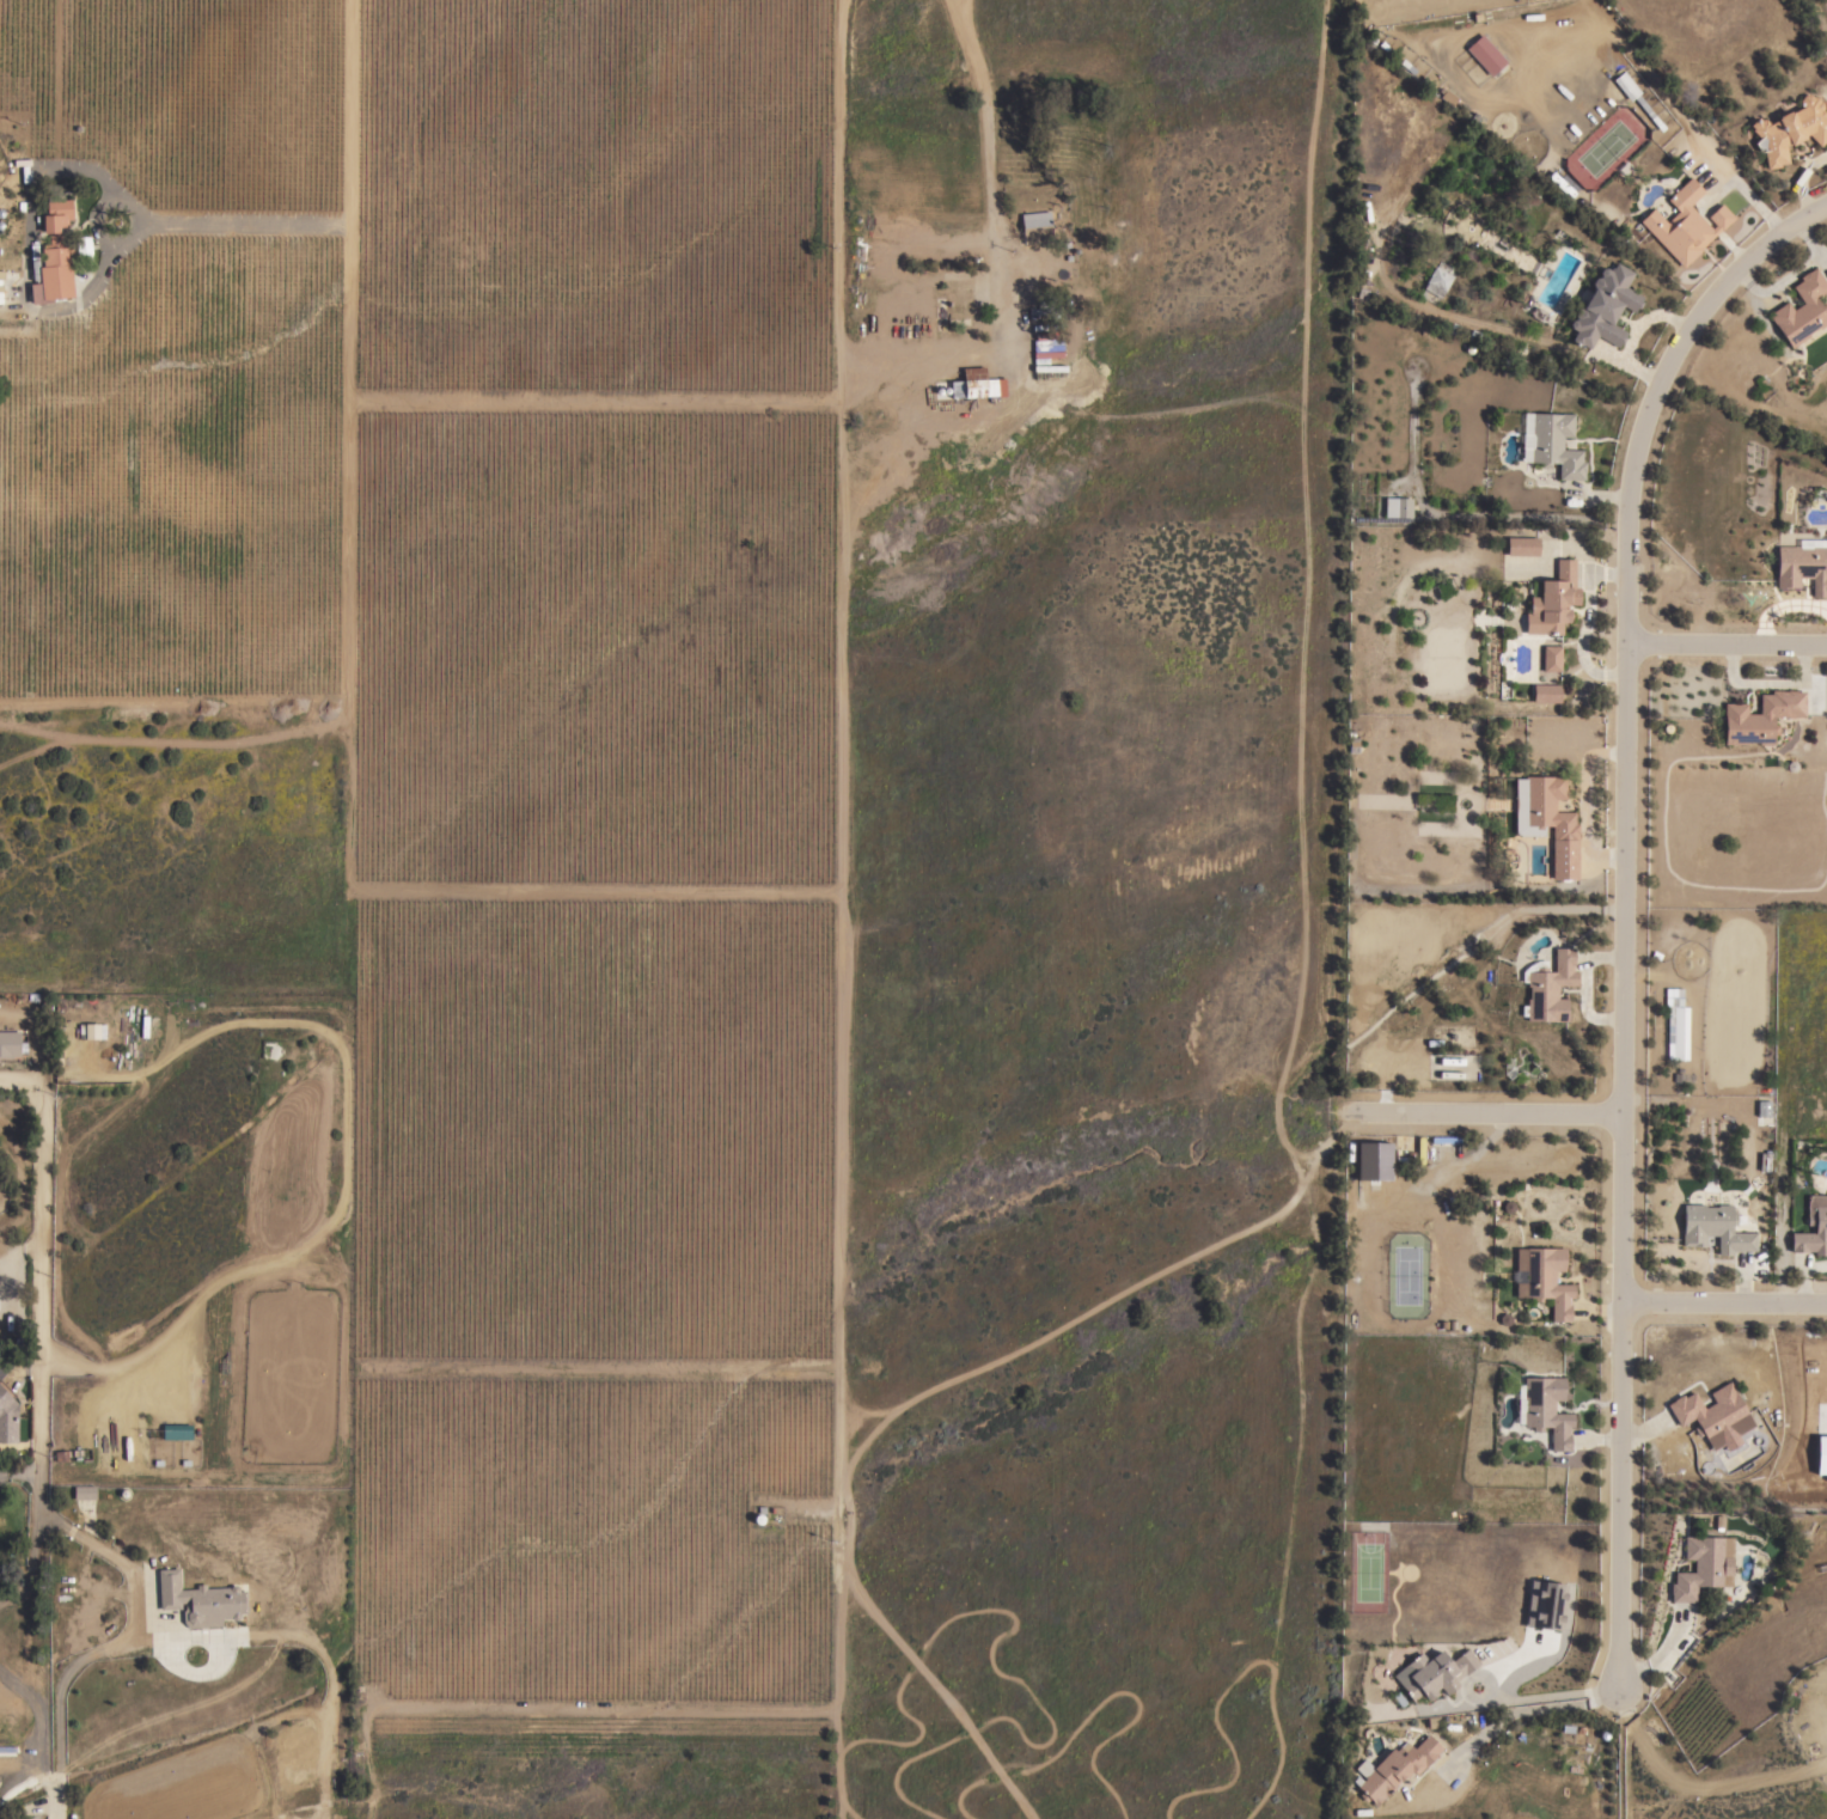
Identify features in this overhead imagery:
building: (1484, 54)
building: (1625, 86)
road: (984, 118)
building: (1789, 129)
building: (55, 209)
road: (93, 220)
road: (240, 222)
building: (1684, 224)
building: (1034, 226)
building: (83, 250)
road: (991, 258)
building: (53, 273)
building: (1436, 281)
building: (0, 295)
building: (1603, 306)
building: (1801, 310)
building: (982, 387)
road: (592, 398)
road: (344, 442)
building: (1551, 444)
building: (1397, 507)
building: (1521, 545)
building: (1802, 566)
building: (1552, 600)
road: (1725, 646)
building: (1550, 658)
building: (1545, 692)
building: (1754, 719)
road: (841, 726)
building: (1546, 820)
road: (591, 889)
road: (1623, 907)
building: (1547, 987)
building: (1678, 1027)
building: (92, 1031)
building: (8, 1044)
road: (1486, 1111)
building: (1813, 1227)
building: (1713, 1228)
building: (1542, 1278)
road: (39, 1289)
road: (1724, 1306)
road: (594, 1366)
building: (1544, 1409)
building: (1709, 1411)
building: (7, 1415)
building: (176, 1432)
building: (1822, 1454)
building: (84, 1491)
road: (83, 1542)
road: (32, 1555)
building: (1698, 1568)
road: (12, 1600)
building: (198, 1600)
building: (1545, 1605)
building: (1432, 1673)
road: (1552, 1695)
road: (1523, 1709)
road: (54, 1717)
building: (294, 1739)
building: (1393, 1768)
road: (51, 1799)

